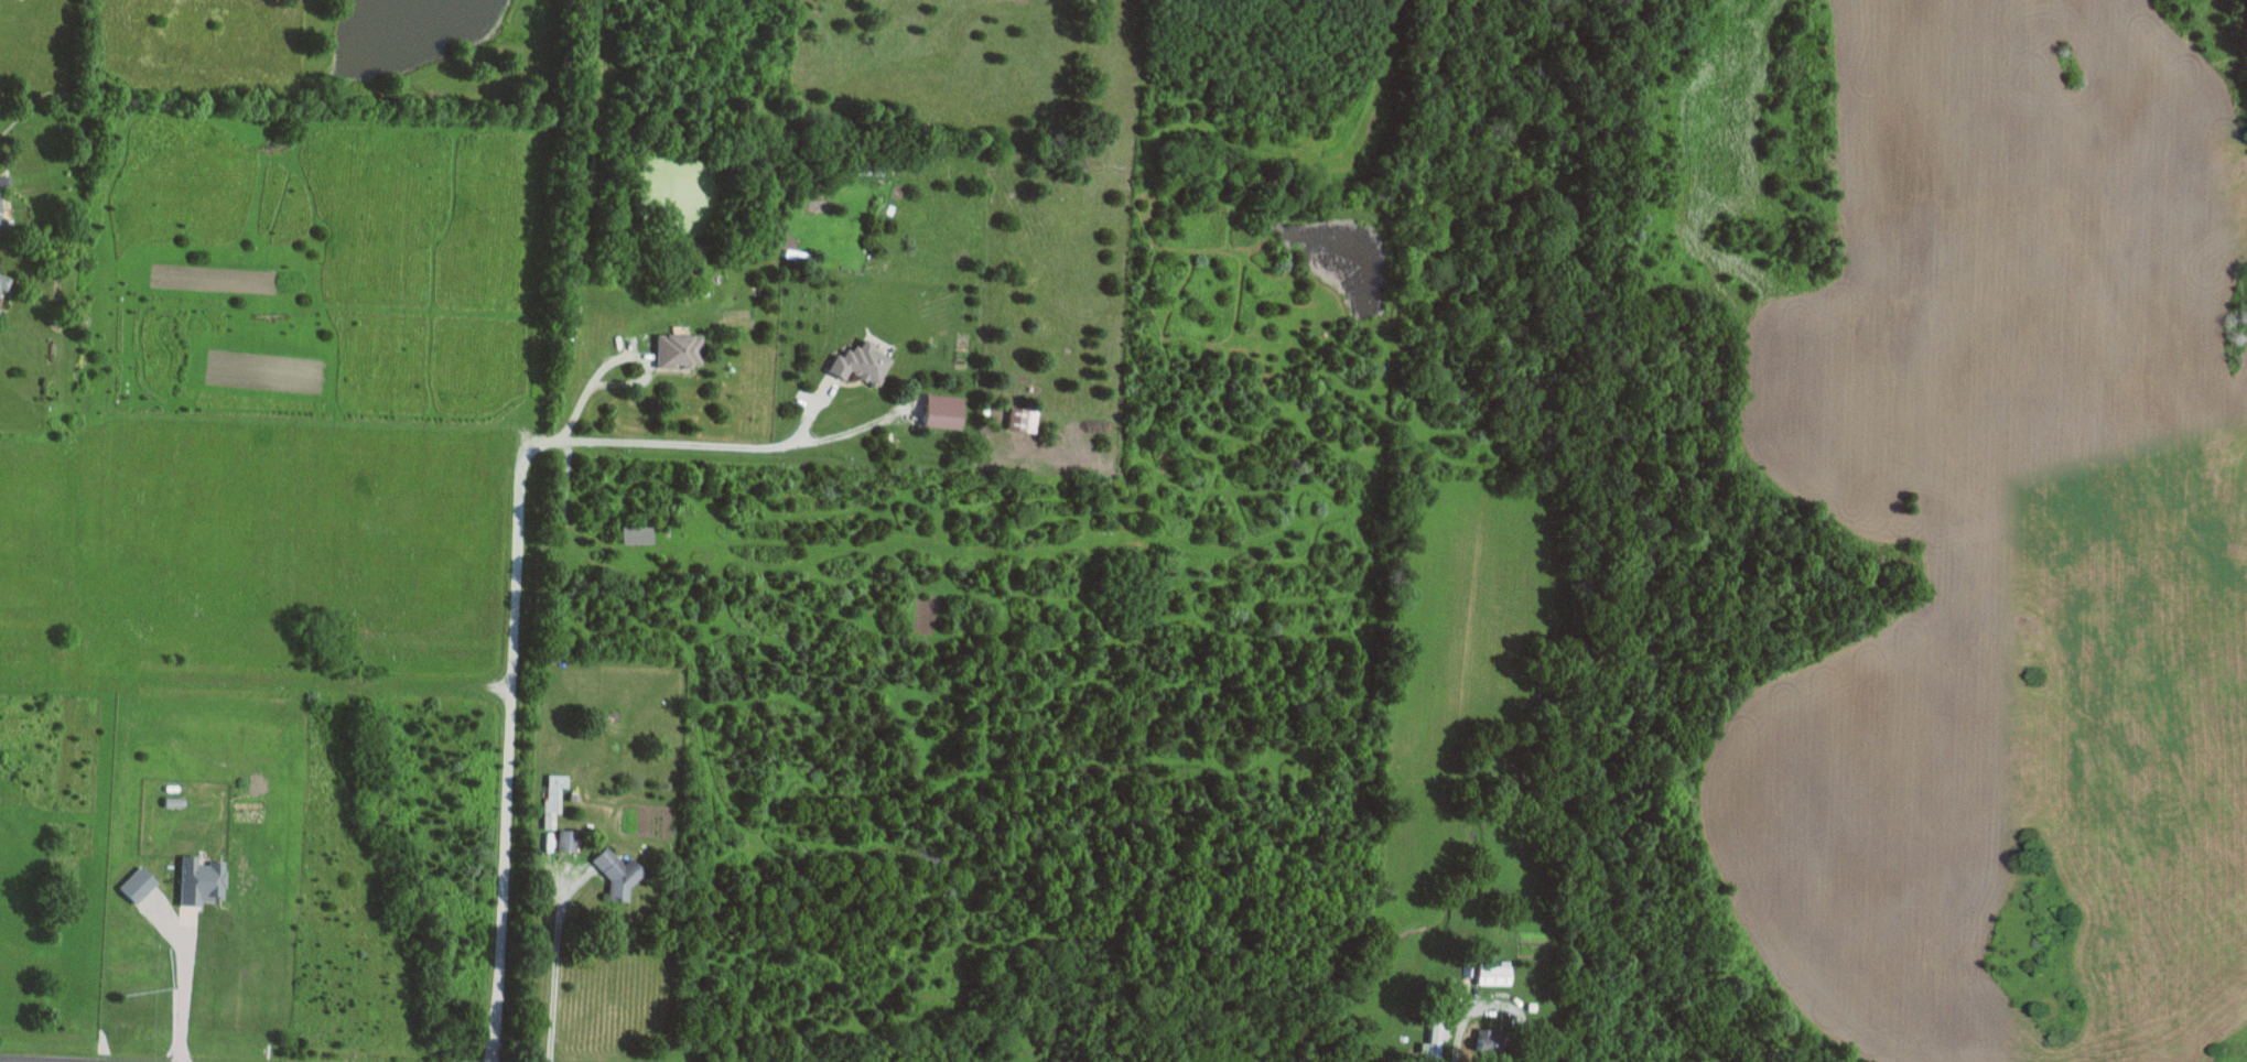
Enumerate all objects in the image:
building: (0, 221)
building: (2, 282)
road: (510, 619)
building: (553, 798)
building: (566, 839)
building: (618, 874)
building: (1494, 975)
building: (1435, 1037)
building: (1490, 1041)
road: (0, 1061)

